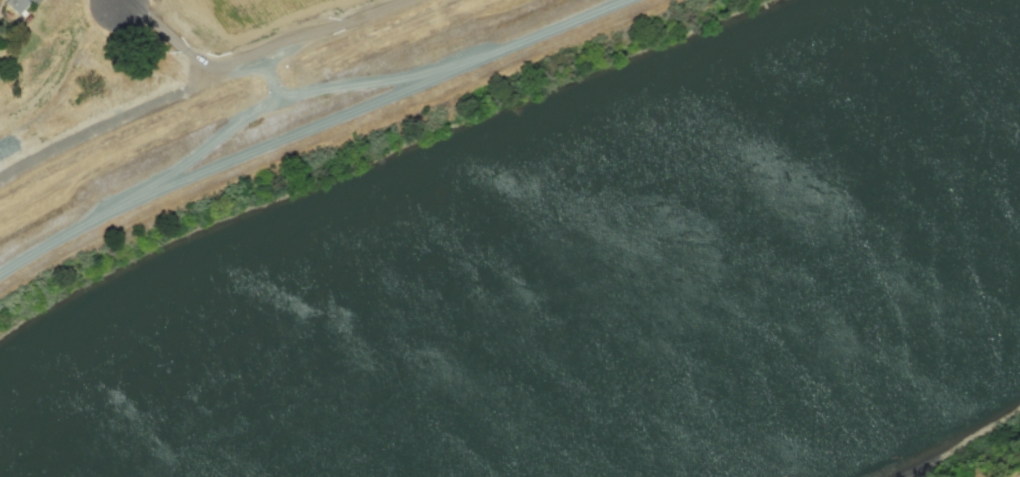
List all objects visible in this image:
road: (610, 2)
building: (16, 5)
crop: (313, 36)
road: (357, 106)
road: (135, 202)
river: (615, 301)

